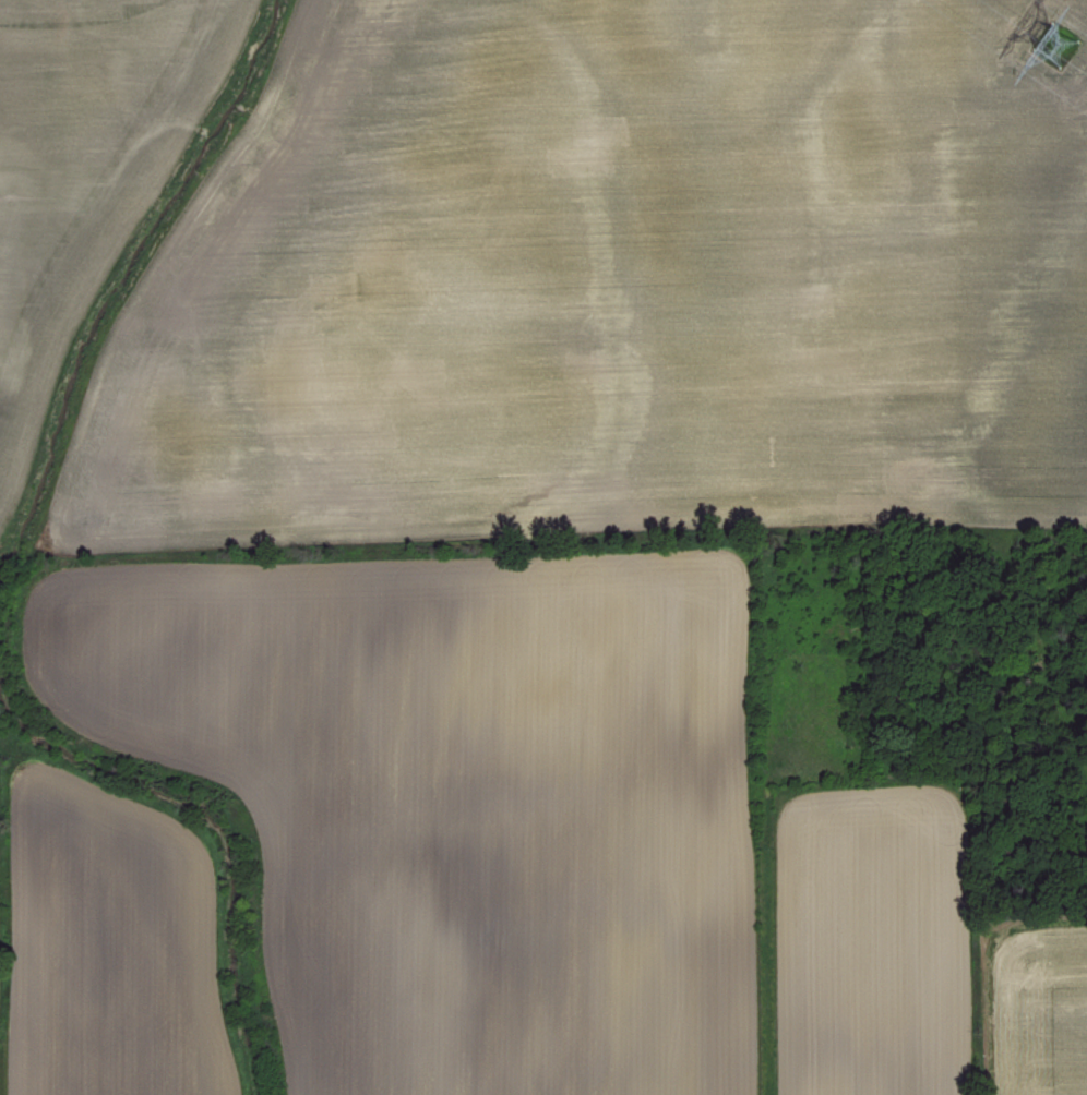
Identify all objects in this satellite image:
power tower: (1042, 47)

